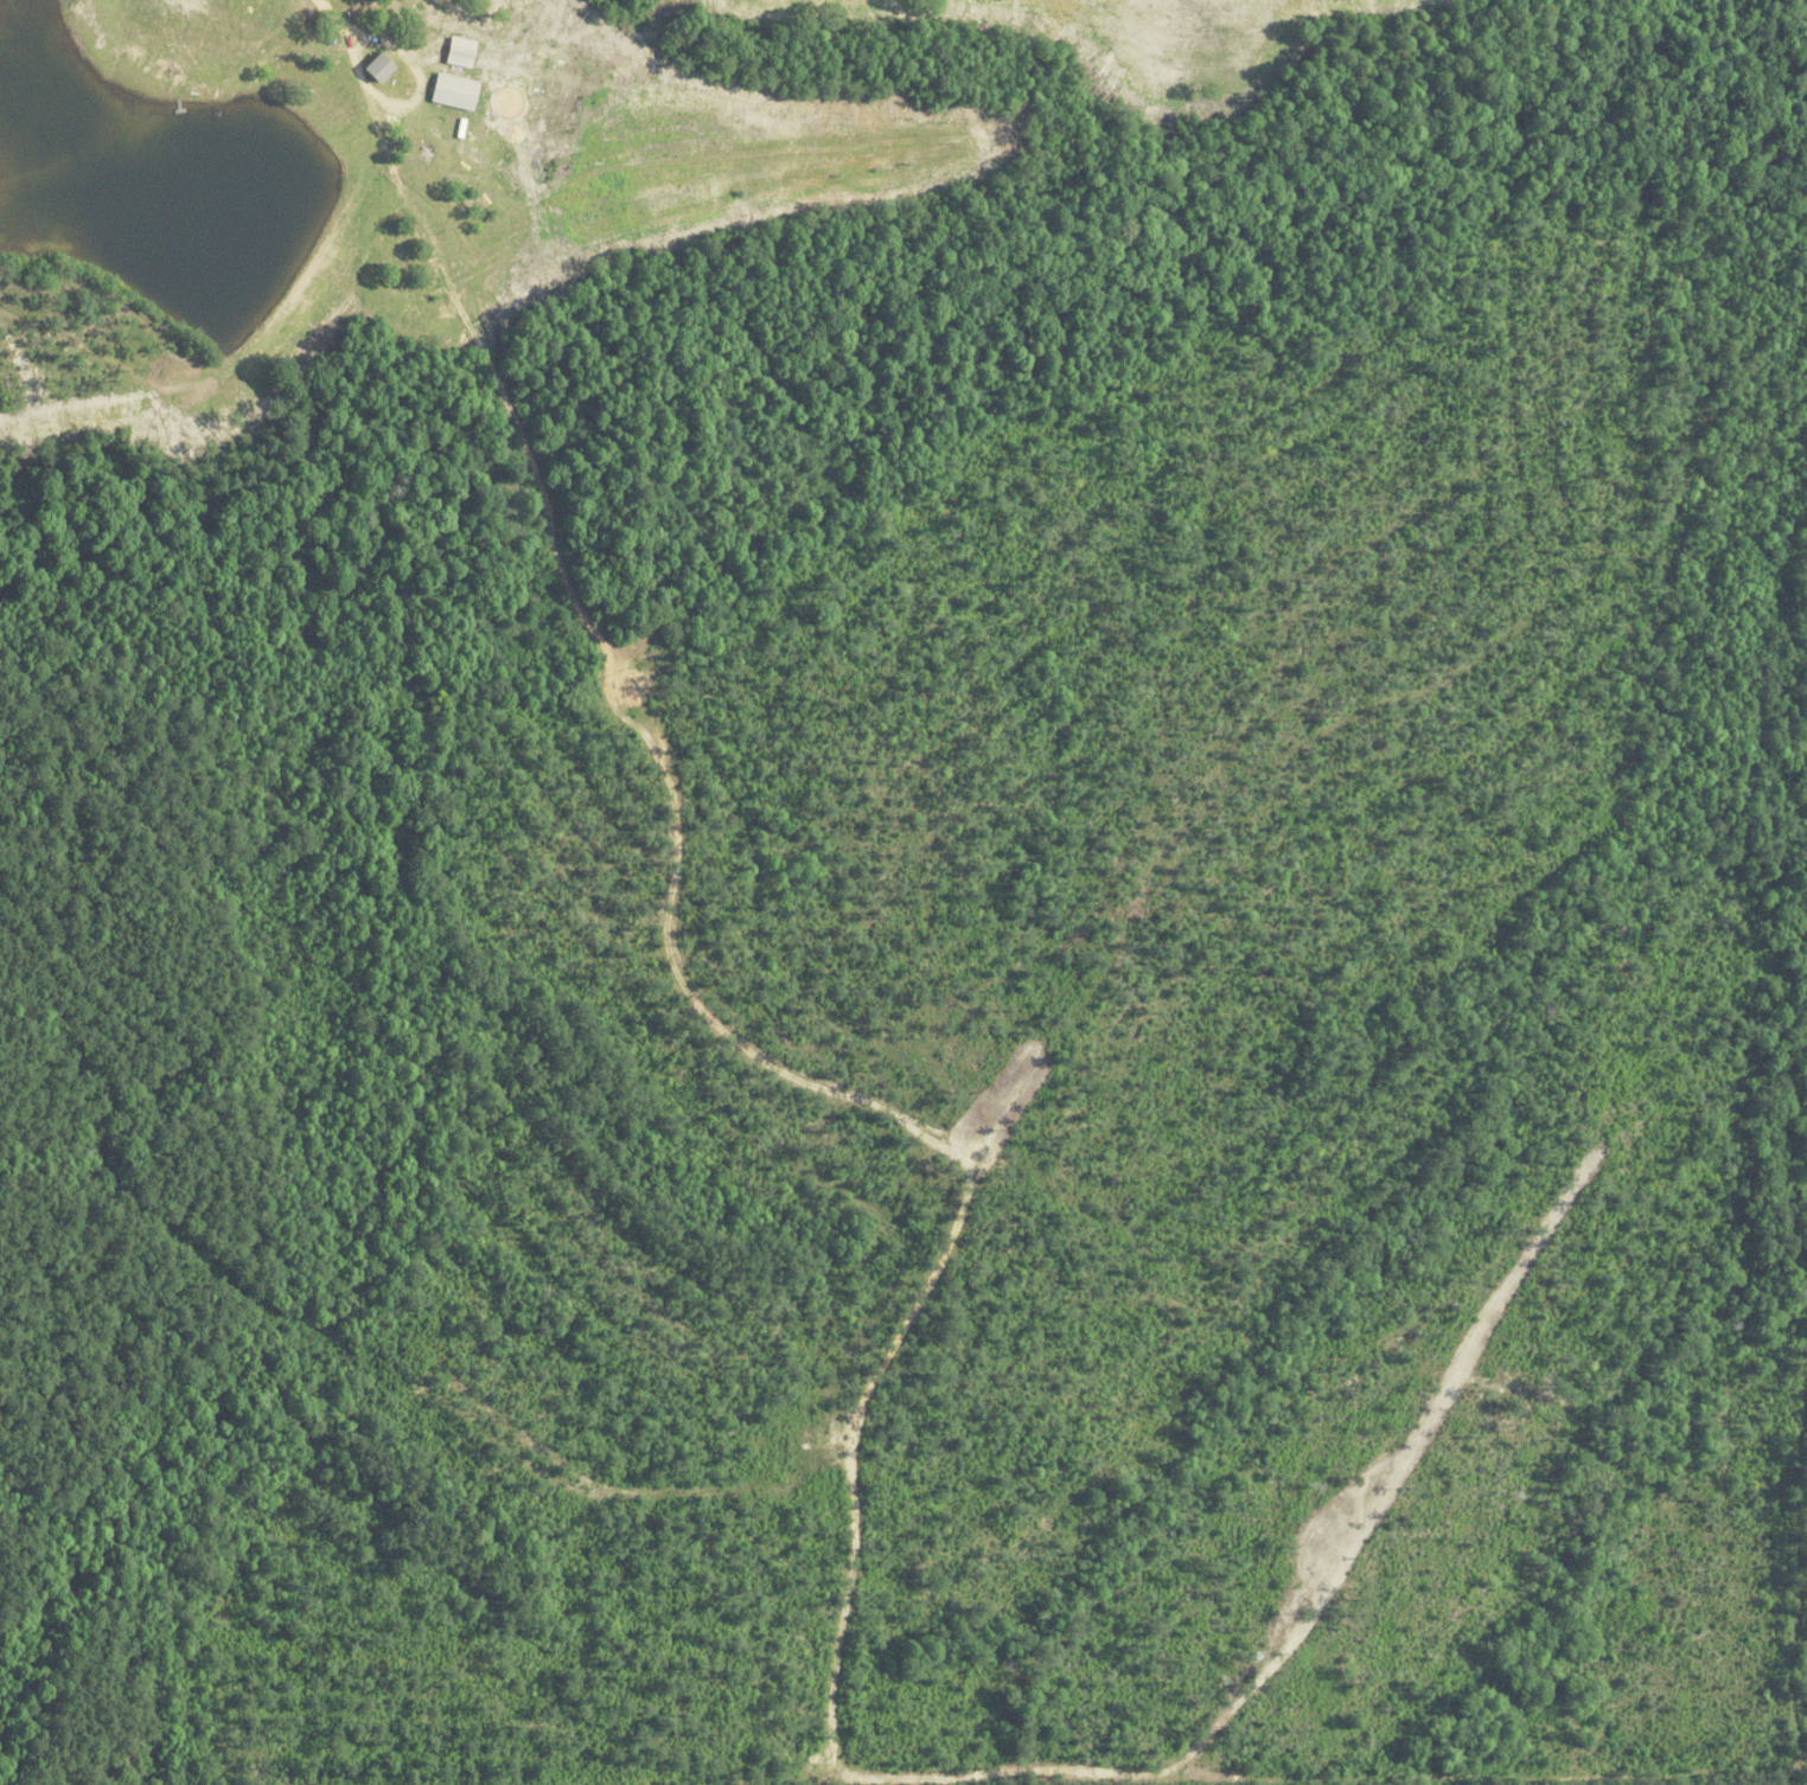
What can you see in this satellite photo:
road: (334, 20)
building: (456, 52)
building: (375, 68)
building: (451, 91)

